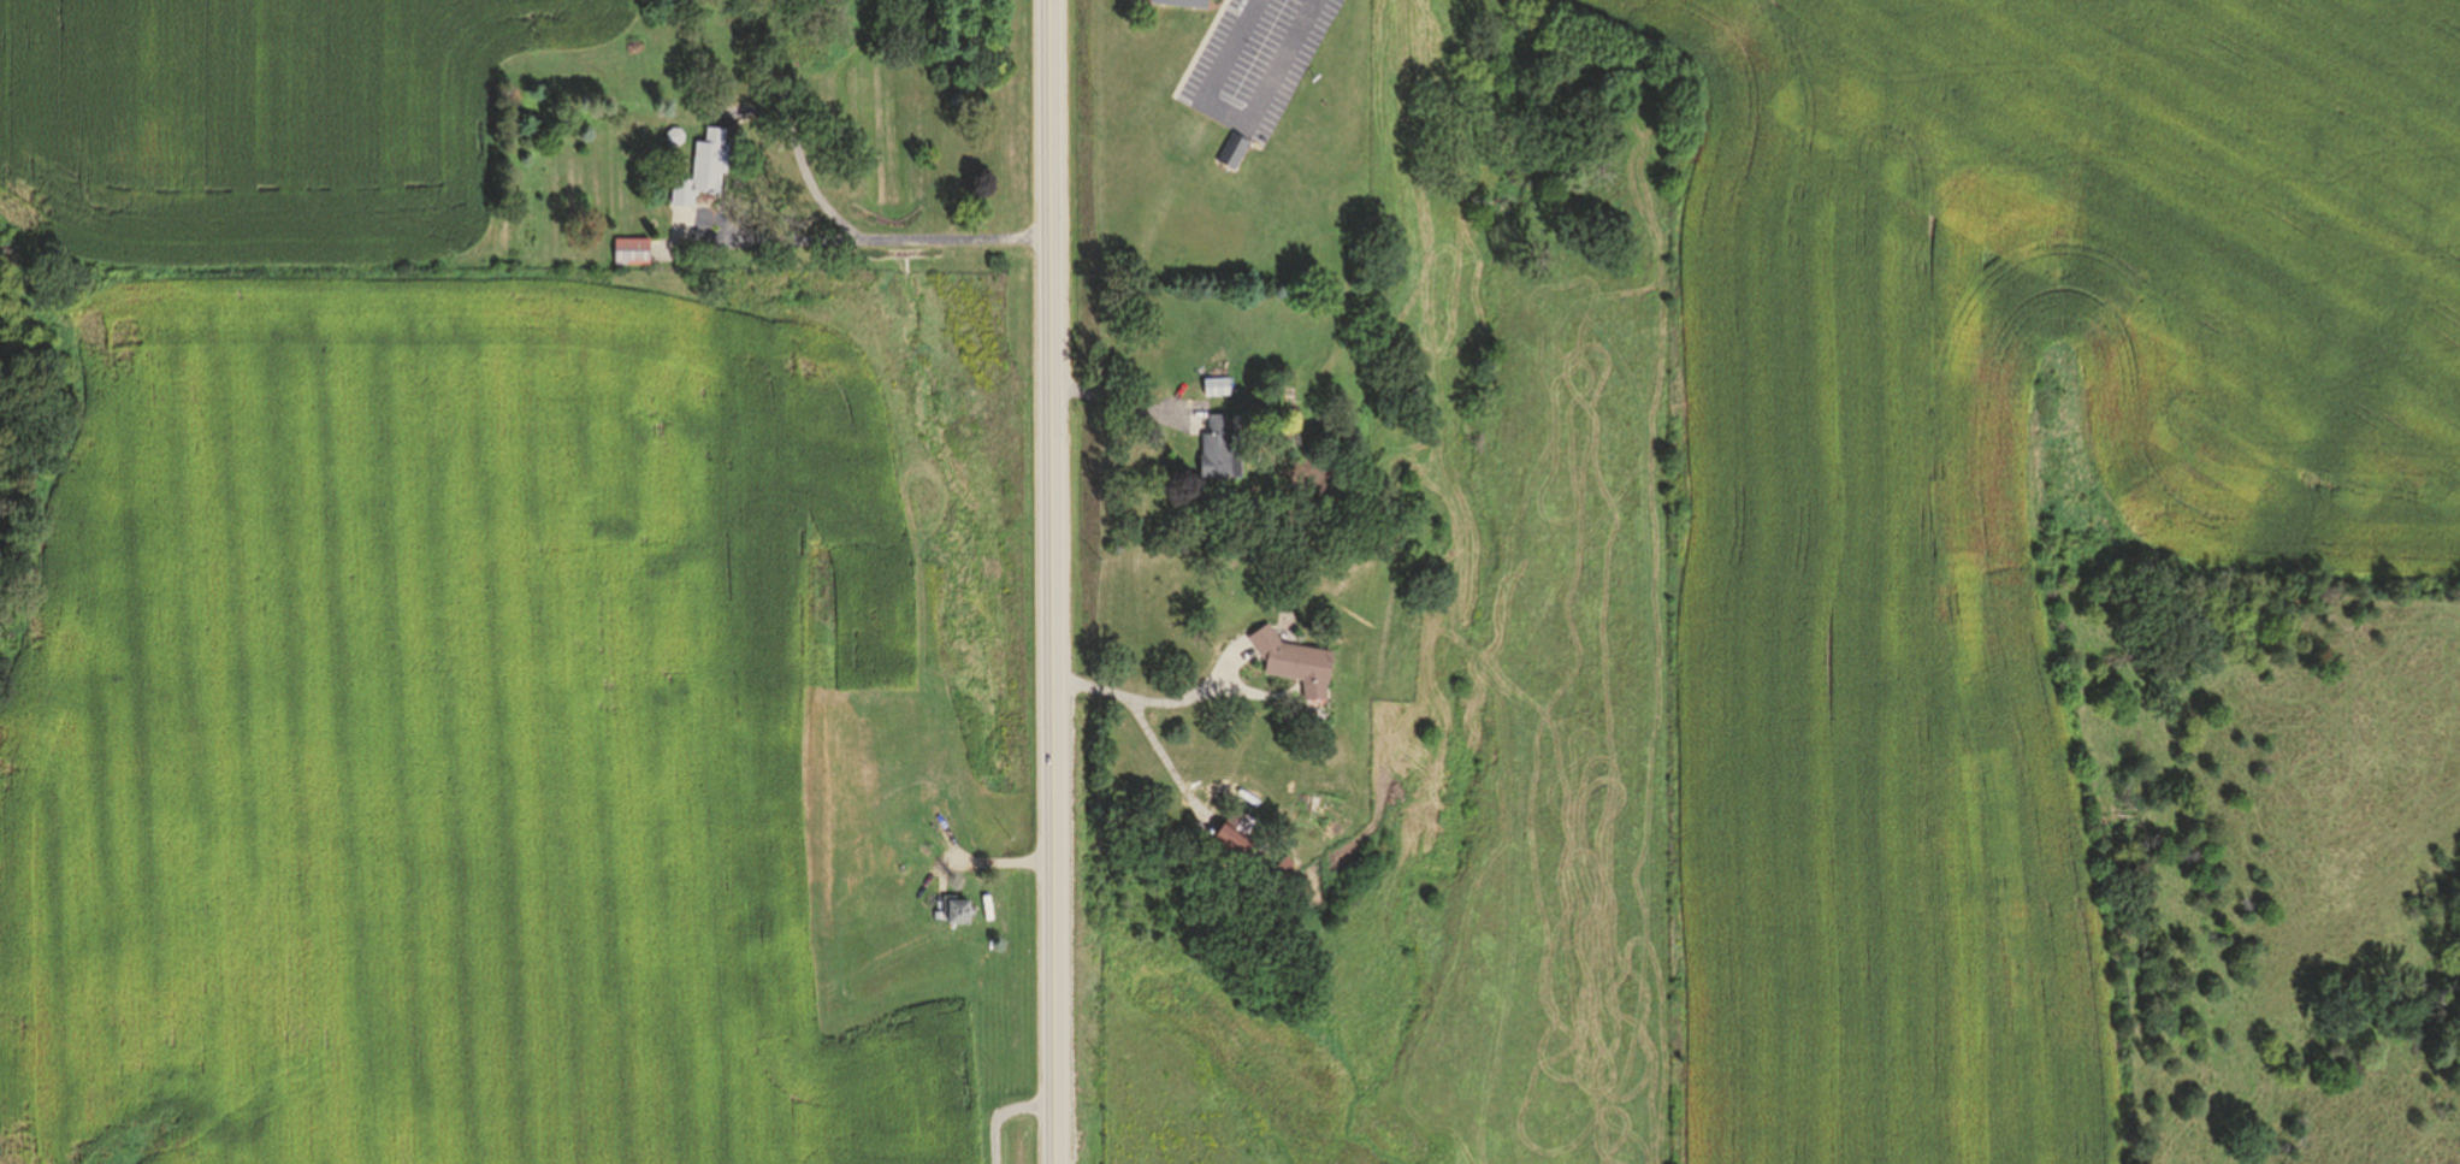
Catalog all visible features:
building: (1179, 4)
parking lot: (1252, 63)
road: (1234, 119)
building: (1230, 150)
building: (698, 172)
road: (875, 237)
building: (627, 255)
building: (1210, 389)
building: (1213, 447)
road: (1049, 581)
building: (1293, 669)
building: (904, 748)
building: (893, 835)
building: (953, 912)

